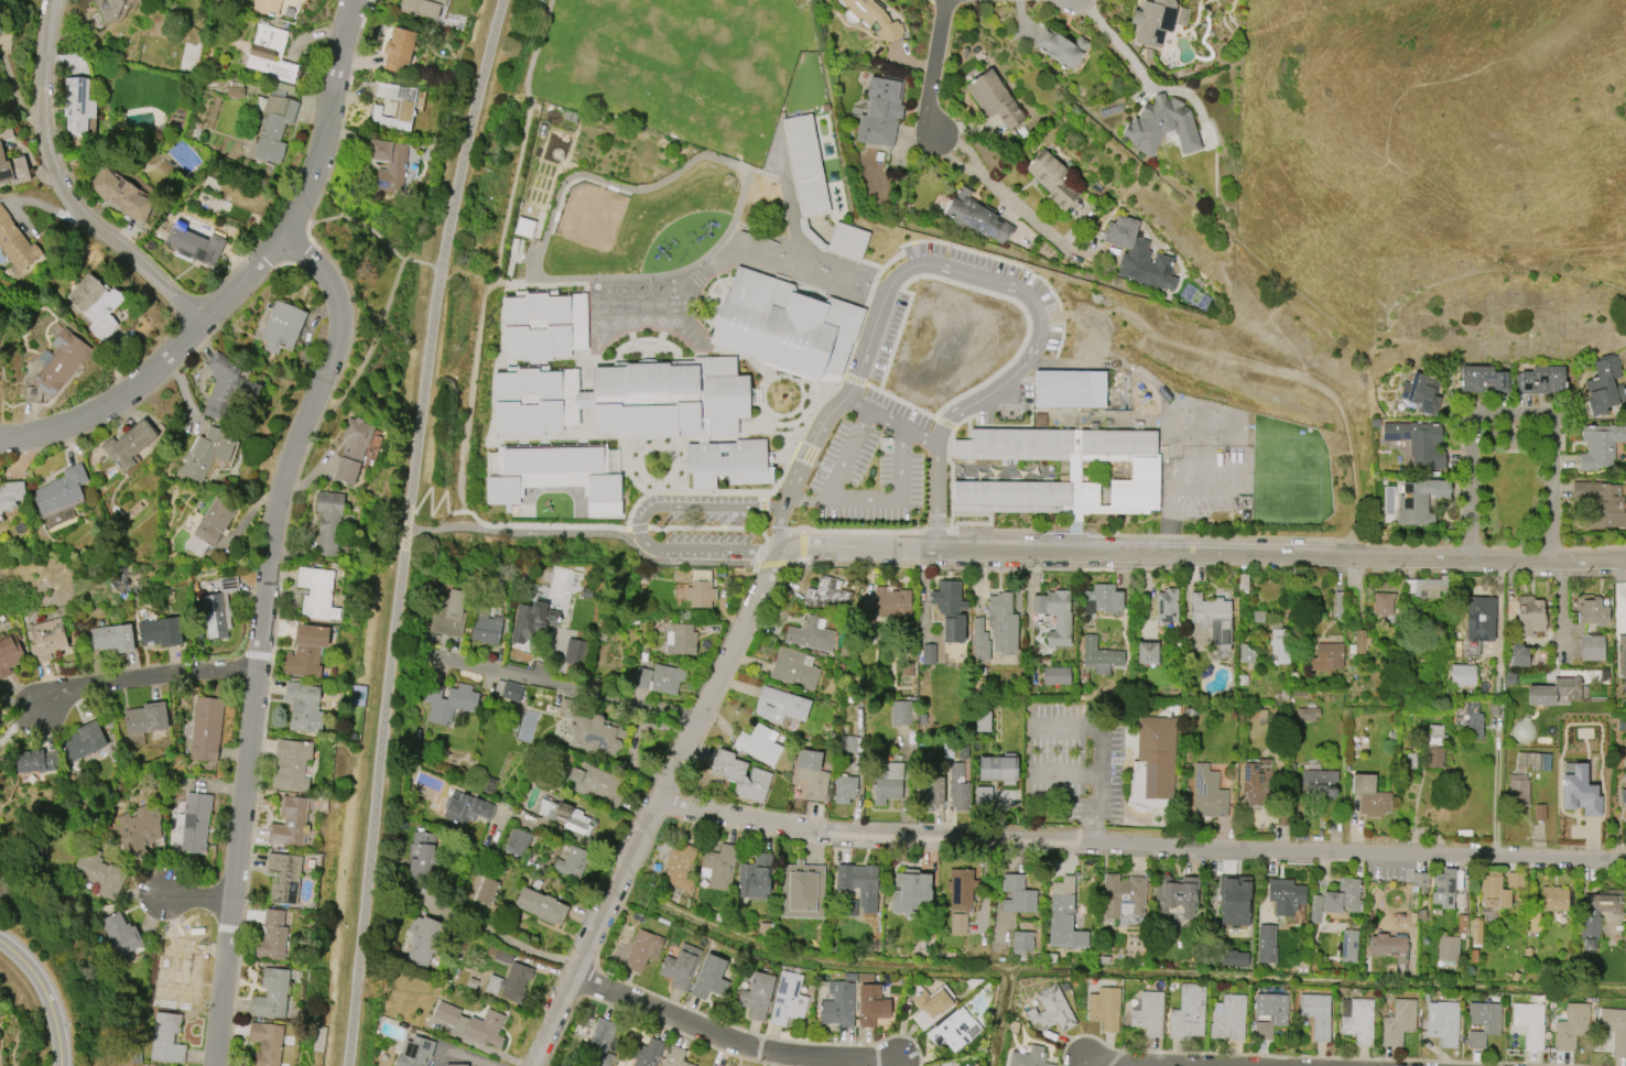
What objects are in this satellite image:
building: (138, 0)
building: (304, 0)
building: (267, 7)
building: (422, 7)
building: (108, 9)
building: (875, 18)
building: (1152, 21)
road: (1120, 45)
building: (1060, 47)
building: (398, 48)
building: (269, 53)
road: (945, 66)
building: (235, 89)
building: (995, 98)
building: (77, 104)
building: (404, 110)
building: (879, 111)
building: (273, 124)
building: (1161, 126)
building: (6, 131)
building: (389, 163)
building: (12, 170)
building: (1053, 178)
building: (815, 188)
road: (67, 189)
road: (1006, 193)
building: (121, 195)
building: (975, 216)
building: (523, 227)
building: (15, 243)
building: (194, 246)
building: (1137, 254)
road: (445, 264)
road: (251, 274)
road: (993, 280)
building: (96, 305)
building: (785, 325)
building: (543, 326)
building: (281, 327)
road: (377, 334)
building: (55, 366)
building: (1483, 379)
building: (1540, 380)
building: (1604, 385)
building: (227, 389)
building: (1069, 389)
building: (1420, 392)
building: (622, 398)
road: (1517, 413)
road: (833, 420)
road: (4, 437)
road: (4, 440)
building: (1417, 440)
building: (128, 445)
building: (1600, 447)
building: (351, 449)
building: (206, 452)
road: (845, 454)
road: (1228, 459)
building: (727, 463)
building: (1063, 470)
building: (553, 477)
road: (940, 480)
building: (61, 490)
building: (11, 494)
road: (878, 499)
building: (1418, 501)
building: (1601, 503)
building: (328, 521)
road: (640, 525)
road: (766, 525)
building: (209, 526)
road: (549, 526)
road: (782, 526)
road: (1171, 526)
road: (603, 533)
road: (778, 540)
road: (765, 552)
road: (1127, 553)
road: (1548, 561)
building: (1242, 581)
building: (1428, 586)
building: (700, 589)
building: (316, 592)
building: (827, 596)
building: (1104, 598)
road: (1558, 601)
building: (892, 602)
building: (1383, 603)
building: (1338, 605)
building: (1167, 606)
building: (218, 608)
building: (950, 609)
building: (1591, 611)
building: (449, 614)
building: (1054, 614)
building: (1258, 616)
building: (1529, 616)
building: (1478, 619)
building: (1214, 620)
building: (531, 621)
building: (1001, 623)
building: (486, 629)
building: (159, 632)
road: (259, 633)
building: (810, 634)
building: (112, 638)
building: (45, 639)
building: (680, 639)
building: (979, 641)
building: (1358, 642)
building: (1279, 644)
building: (1591, 648)
building: (305, 650)
building: (9, 652)
building: (575, 652)
building: (1147, 652)
building: (1246, 653)
building: (928, 654)
building: (1099, 655)
building: (1518, 655)
building: (1623, 655)
building: (1326, 656)
building: (793, 667)
building: (1055, 675)
building: (1462, 675)
road: (147, 677)
building: (658, 678)
road: (571, 686)
building: (511, 690)
building: (1554, 690)
building: (448, 701)
road: (21, 704)
building: (779, 705)
building: (303, 707)
building: (566, 708)
building: (900, 713)
building: (1307, 714)
building: (145, 718)
building: (1473, 720)
building: (983, 721)
building: (206, 728)
building: (595, 735)
building: (84, 741)
building: (759, 743)
road: (1099, 747)
building: (1434, 747)
building: (1535, 760)
building: (35, 761)
building: (290, 763)
building: (1151, 765)
building: (998, 768)
building: (812, 774)
building: (741, 775)
road: (1064, 777)
building: (1255, 779)
building: (887, 782)
building: (595, 783)
building: (1319, 783)
building: (957, 787)
building: (844, 790)
building: (1578, 790)
building: (930, 791)
building: (1517, 792)
building: (1207, 793)
road: (1499, 793)
building: (983, 796)
building: (1369, 796)
road: (381, 799)
building: (1623, 799)
building: (465, 808)
road: (655, 808)
road: (1083, 811)
building: (1539, 812)
road: (1414, 814)
building: (565, 816)
building: (289, 822)
building: (194, 823)
building: (138, 829)
road: (550, 829)
building: (517, 842)
road: (1141, 842)
building: (421, 855)
building: (572, 862)
building: (679, 866)
building: (718, 867)
building: (98, 873)
building: (283, 877)
building: (755, 877)
building: (1419, 879)
building: (858, 883)
building: (961, 888)
building: (1443, 888)
building: (1498, 888)
building: (485, 891)
building: (801, 891)
building: (910, 891)
building: (1017, 895)
building: (1177, 895)
building: (1284, 895)
building: (1121, 896)
road: (192, 898)
building: (1343, 899)
building: (1554, 899)
building: (1234, 901)
building: (540, 905)
building: (1314, 909)
building: (1597, 914)
building: (1063, 916)
building: (1533, 922)
building: (1461, 923)
building: (958, 924)
building: (1474, 931)
building: (120, 936)
building: (271, 936)
building: (423, 940)
road: (510, 940)
building: (1021, 943)
building: (1266, 944)
building: (1347, 946)
building: (1448, 948)
building: (642, 949)
building: (1389, 949)
building: (1233, 958)
building: (680, 966)
building: (177, 971)
building: (708, 978)
building: (509, 982)
road: (48, 993)
building: (270, 994)
building: (756, 996)
building: (787, 998)
building: (837, 1004)
building: (929, 1004)
building: (870, 1005)
building: (1104, 1008)
building: (1050, 1010)
building: (1188, 1012)
building: (1148, 1013)
building: (1269, 1013)
building: (1315, 1013)
building: (1227, 1018)
building: (1358, 1021)
building: (1398, 1022)
building: (1483, 1022)
building: (1529, 1022)
building: (471, 1023)
building: (1443, 1023)
building: (1571, 1026)
building: (953, 1029)
building: (1614, 1029)
road: (737, 1036)
building: (166, 1037)
building: (265, 1043)
building: (599, 1043)
building: (415, 1052)
building: (646, 1053)
building: (674, 1057)
building: (1029, 1057)
road: (1116, 1064)
building: (456, 1065)
building: (944, 1065)

